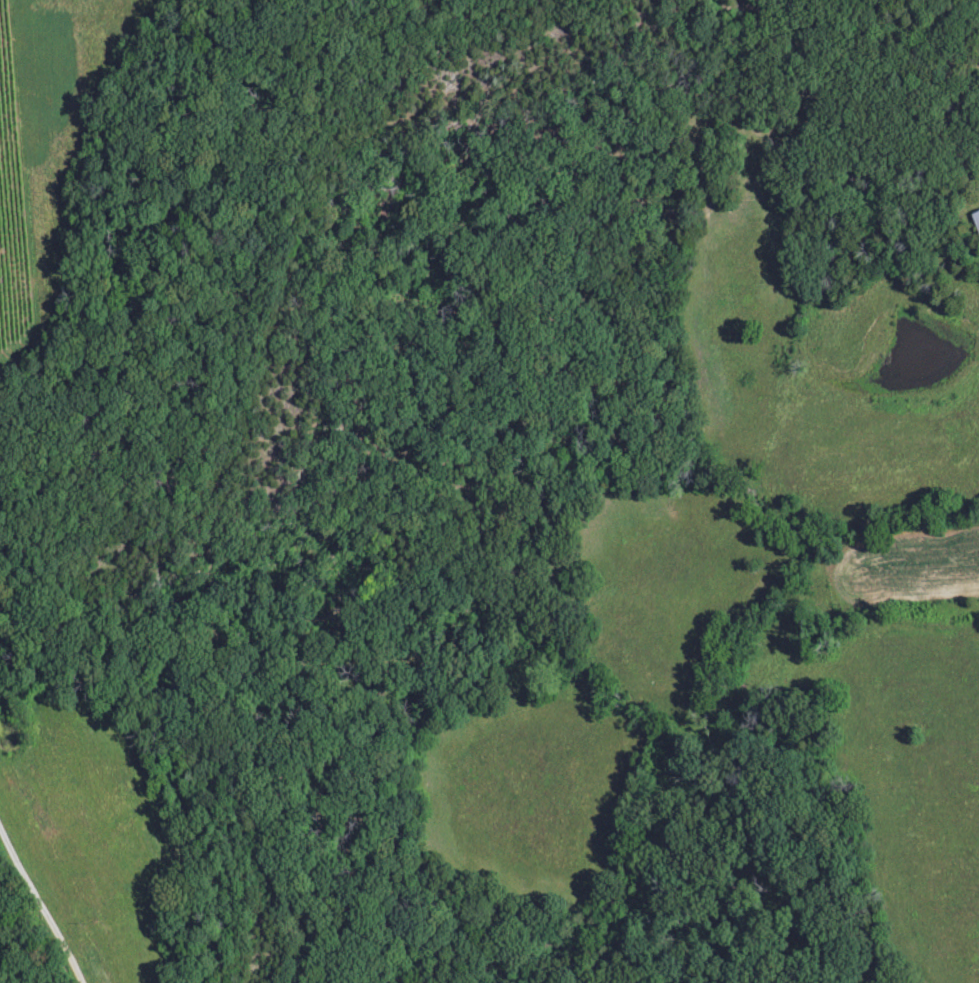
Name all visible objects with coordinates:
road: (688, 125)
building: (975, 222)
building: (59, 862)
road: (39, 906)

